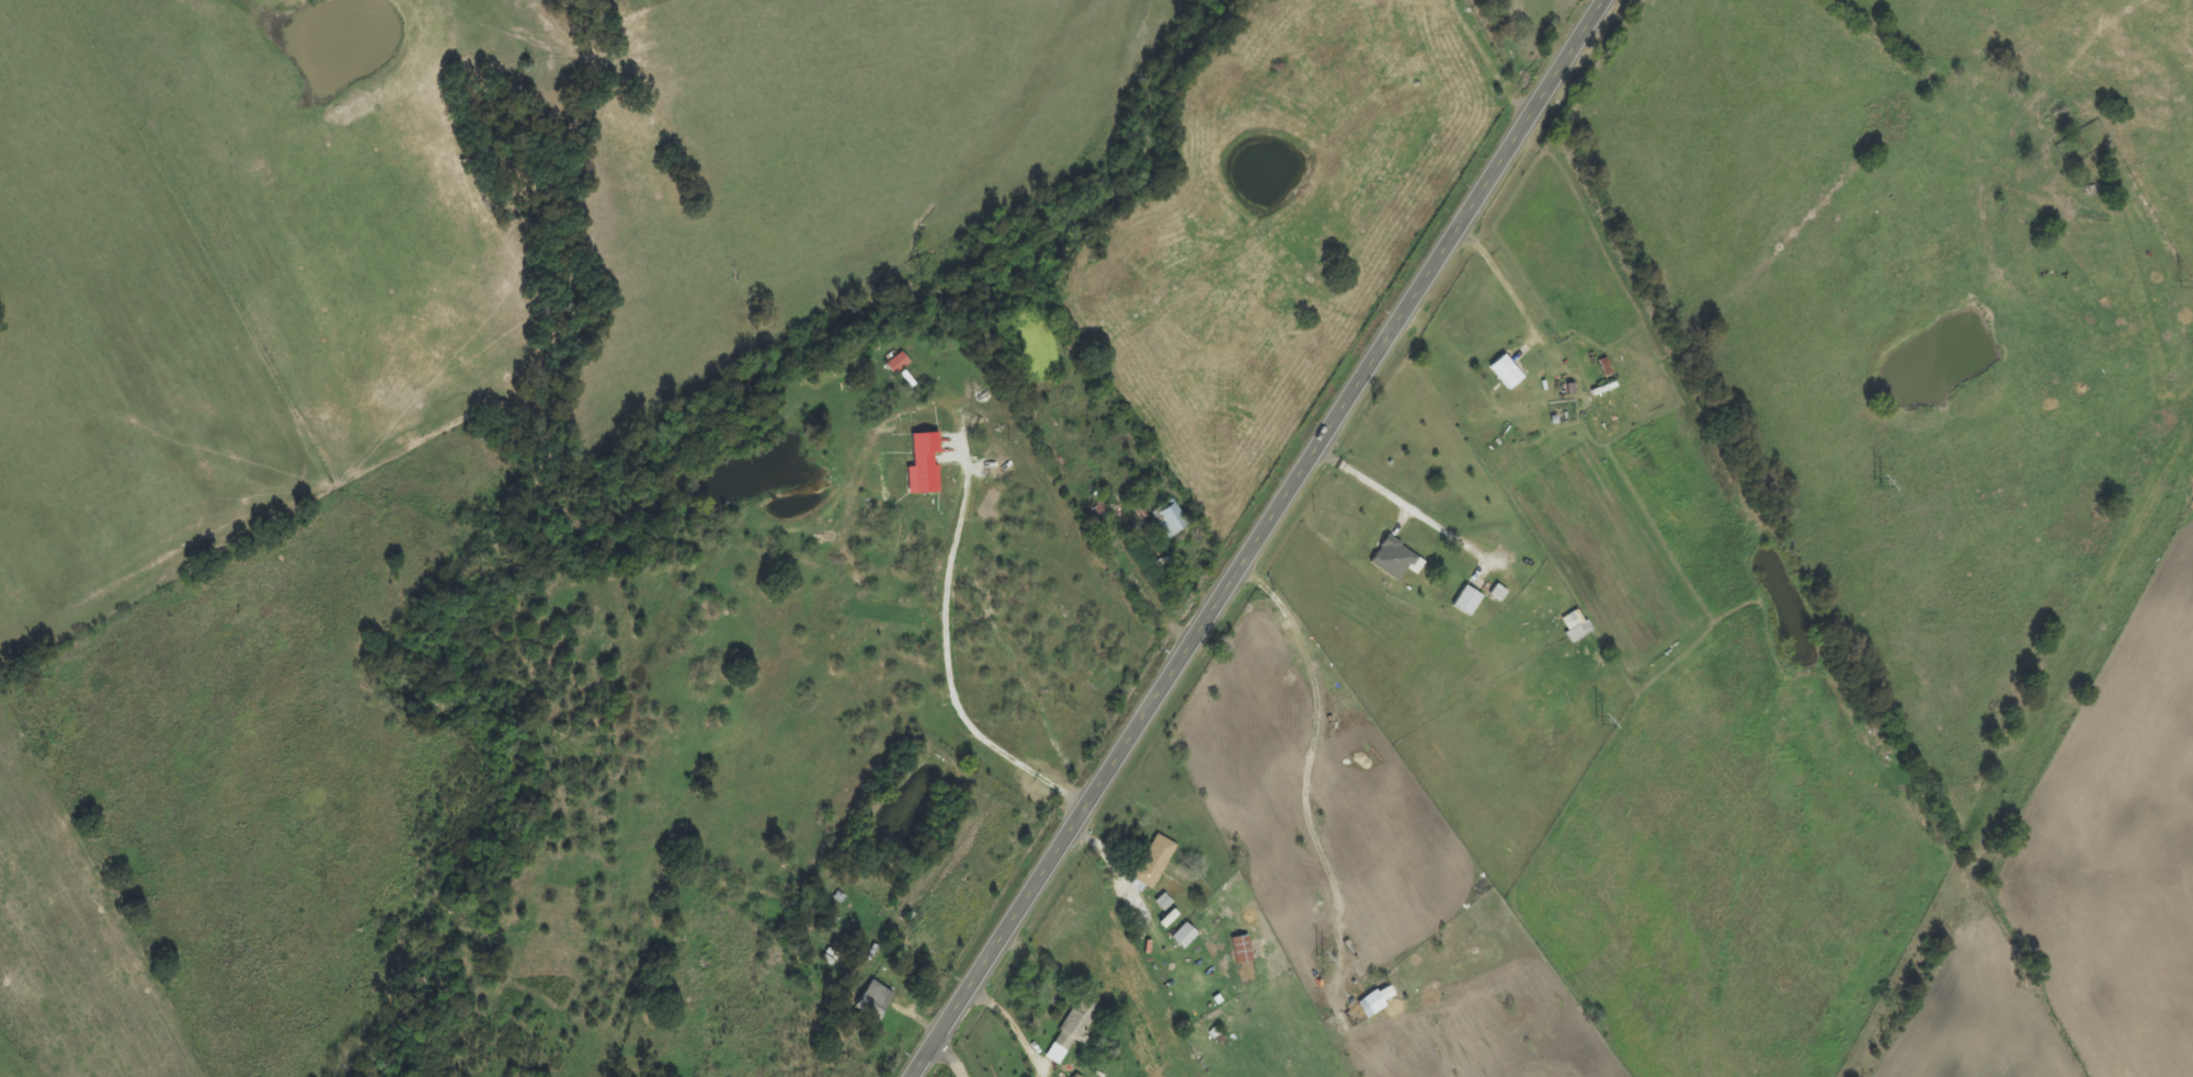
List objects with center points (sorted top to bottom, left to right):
power tower: (2179, 283)
building: (899, 364)
building: (1508, 374)
building: (924, 466)
power tower: (1876, 481)
building: (1172, 520)
road: (1253, 537)
building: (1397, 561)
building: (1499, 594)
building: (1469, 601)
building: (1576, 627)
power tower: (1598, 720)
railway: (2013, 747)
building: (1155, 862)
building: (1165, 904)
building: (1185, 937)
building: (1243, 951)
power tower: (1318, 958)
building: (876, 1001)
building: (1377, 1002)
building: (1074, 1030)
road: (953, 1055)

